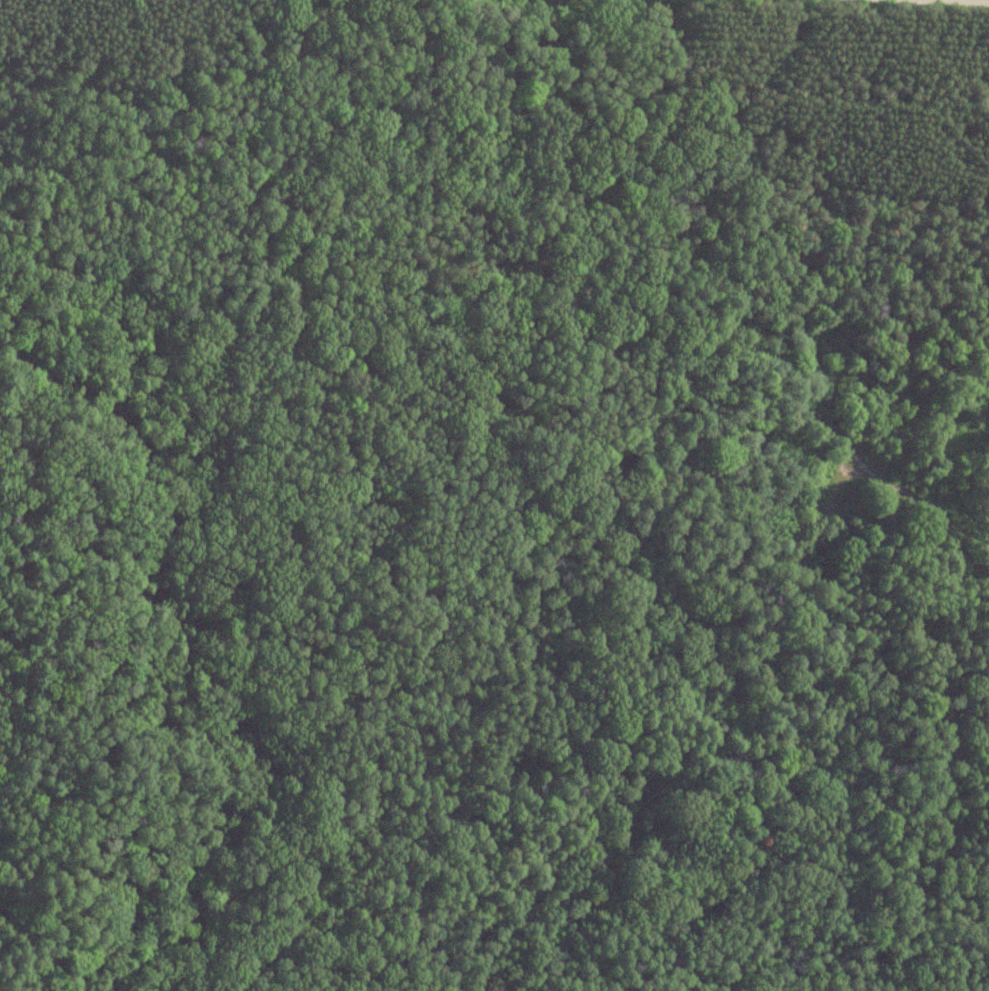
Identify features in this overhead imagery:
road: (780, 6)

